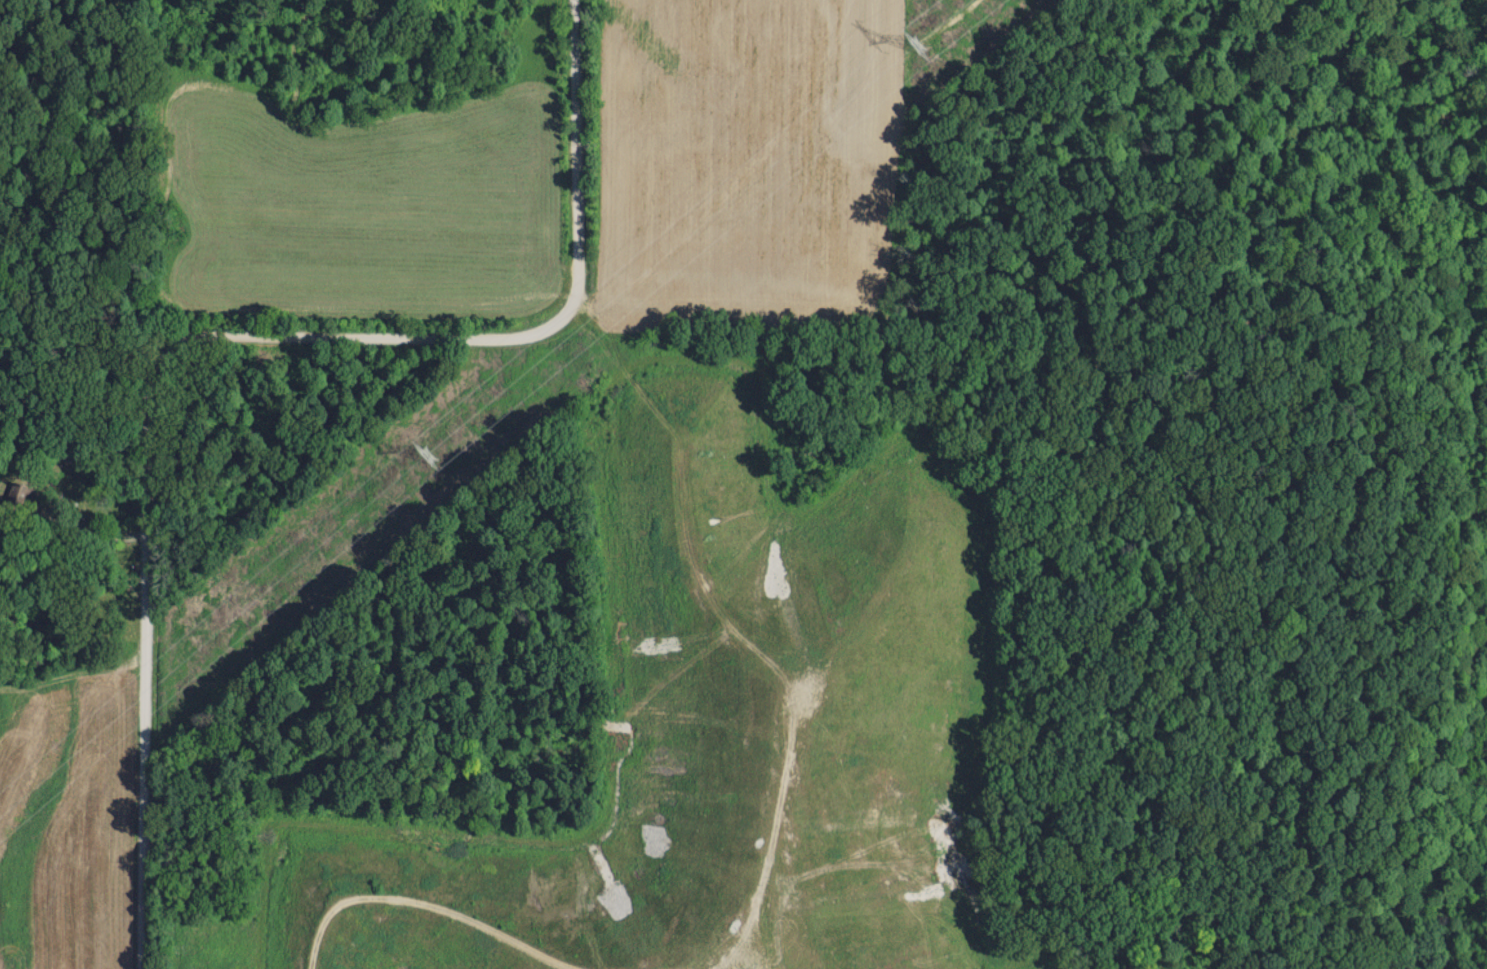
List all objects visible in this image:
power tower: (915, 44)
road: (210, 333)
power tower: (425, 454)

